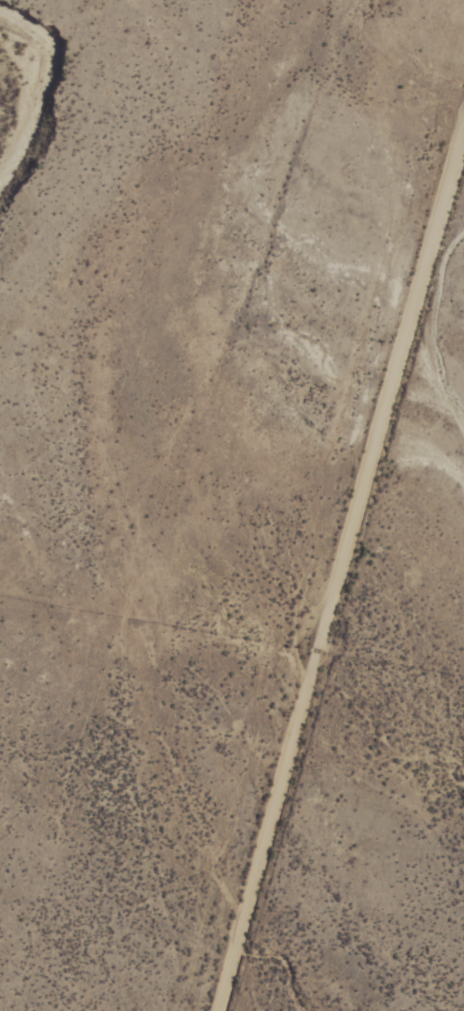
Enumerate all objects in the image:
road: (337, 576)

